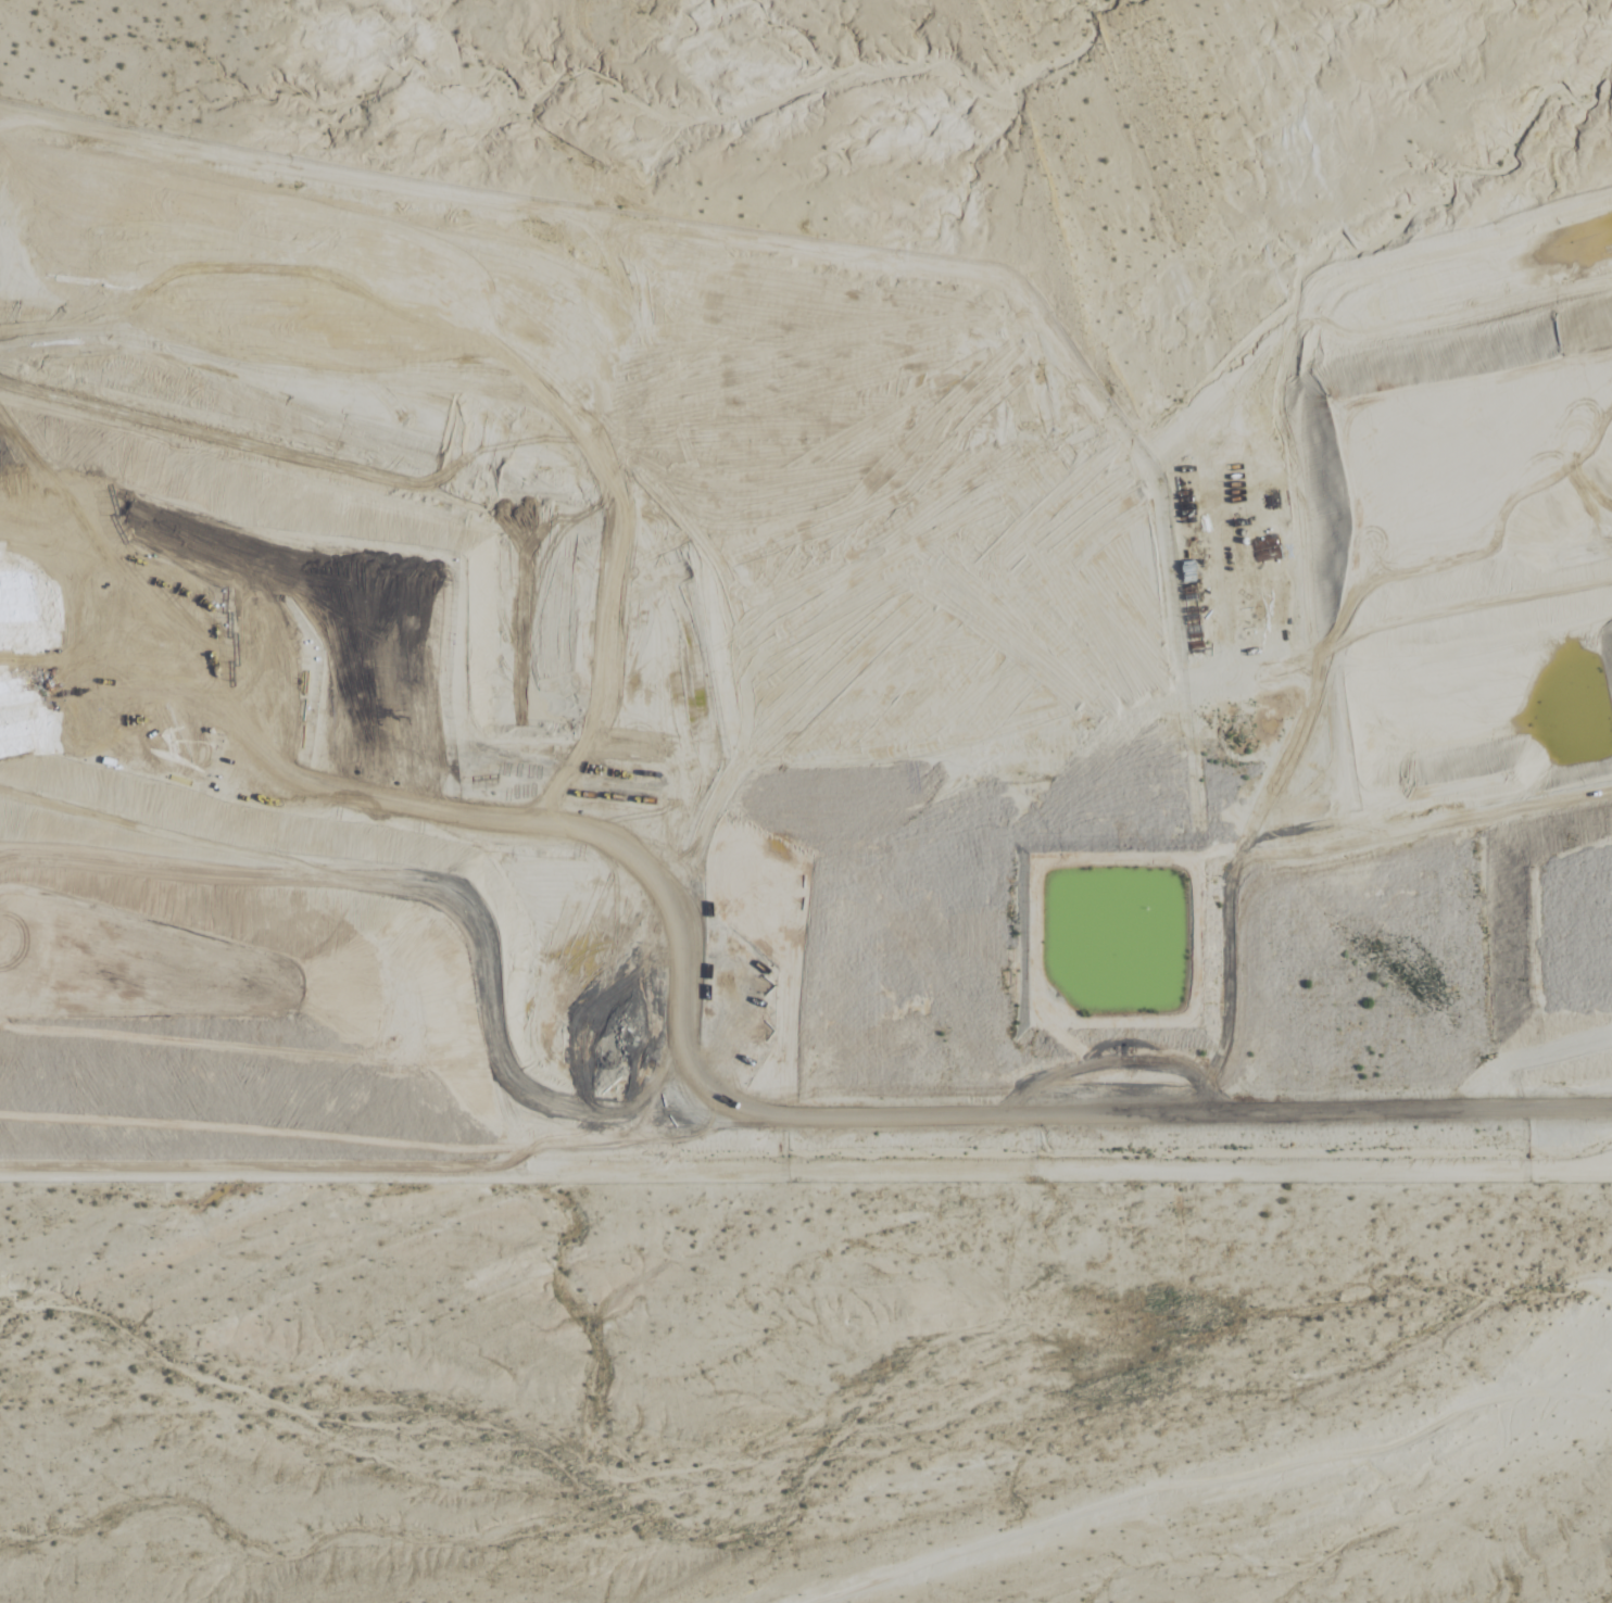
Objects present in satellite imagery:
landfill: (806, 581)
road: (864, 1122)
road: (1211, 1480)

